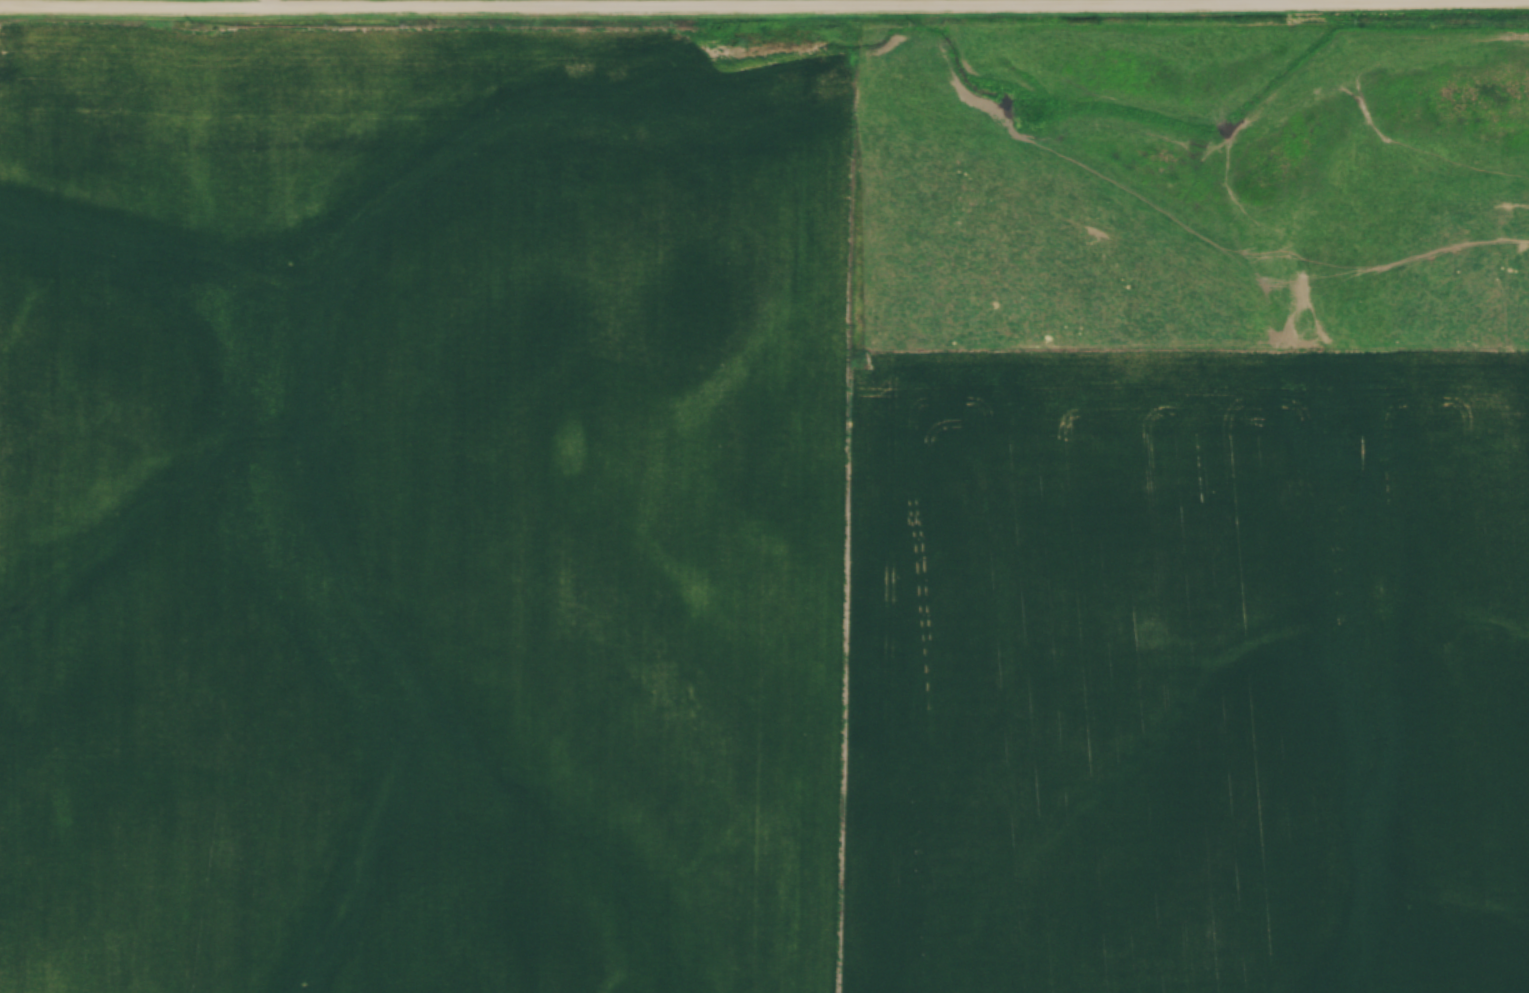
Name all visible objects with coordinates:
road: (256, 5)
road: (764, 10)

